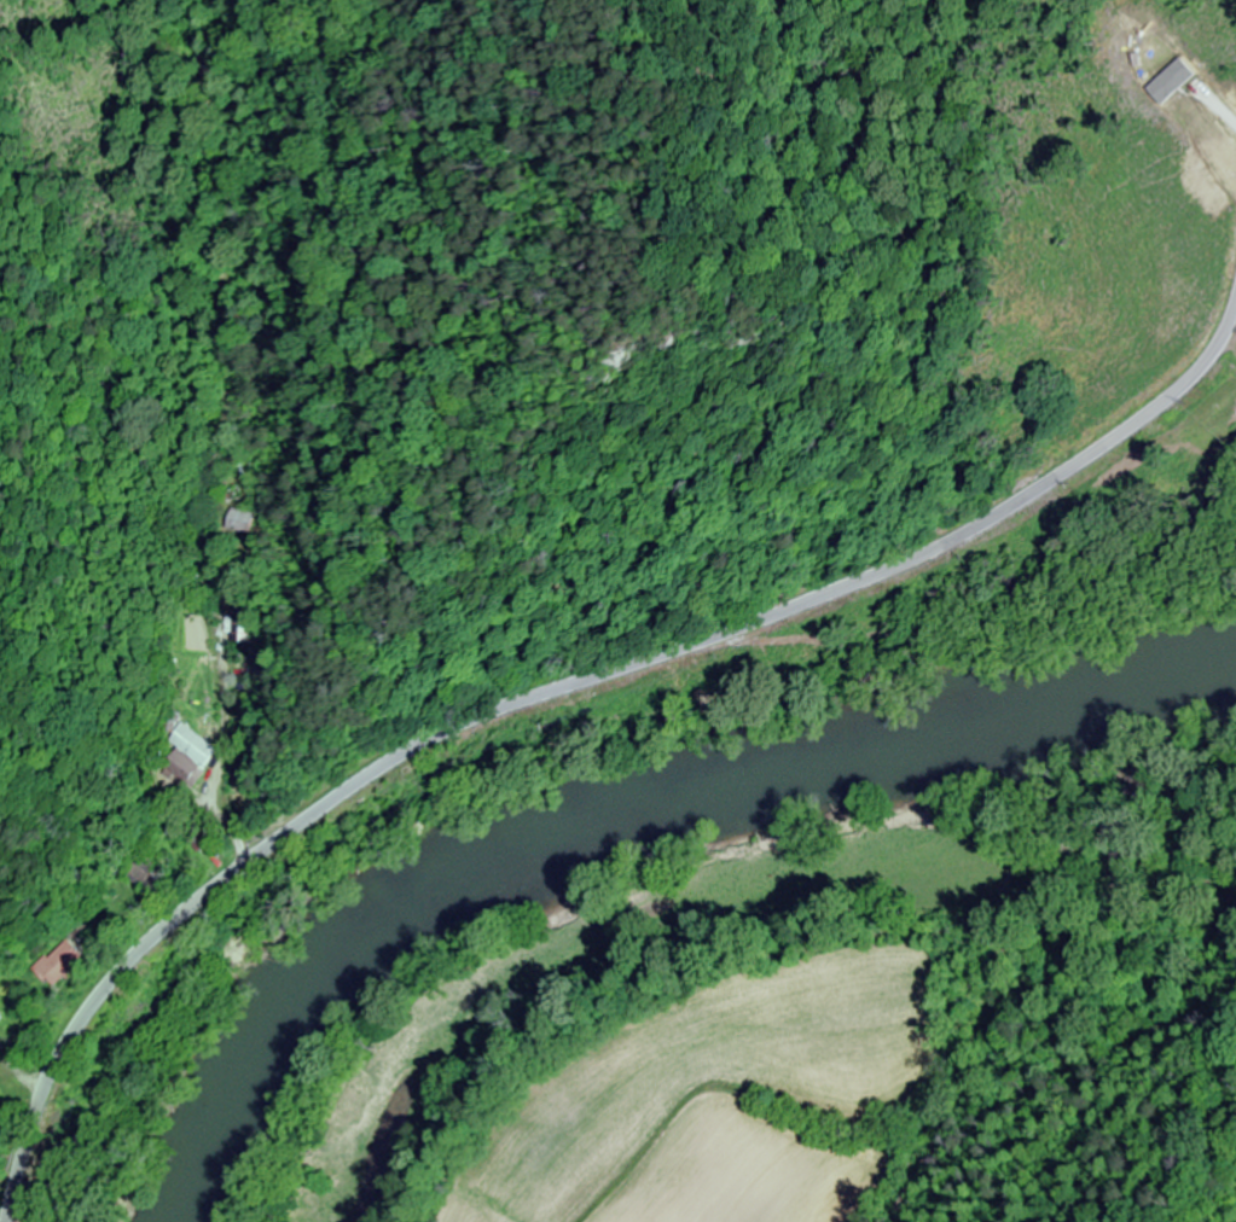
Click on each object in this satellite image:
building: (245, 520)
road: (559, 697)
building: (172, 722)
building: (184, 770)
river: (616, 789)
building: (141, 871)
building: (58, 964)
building: (0, 1020)

